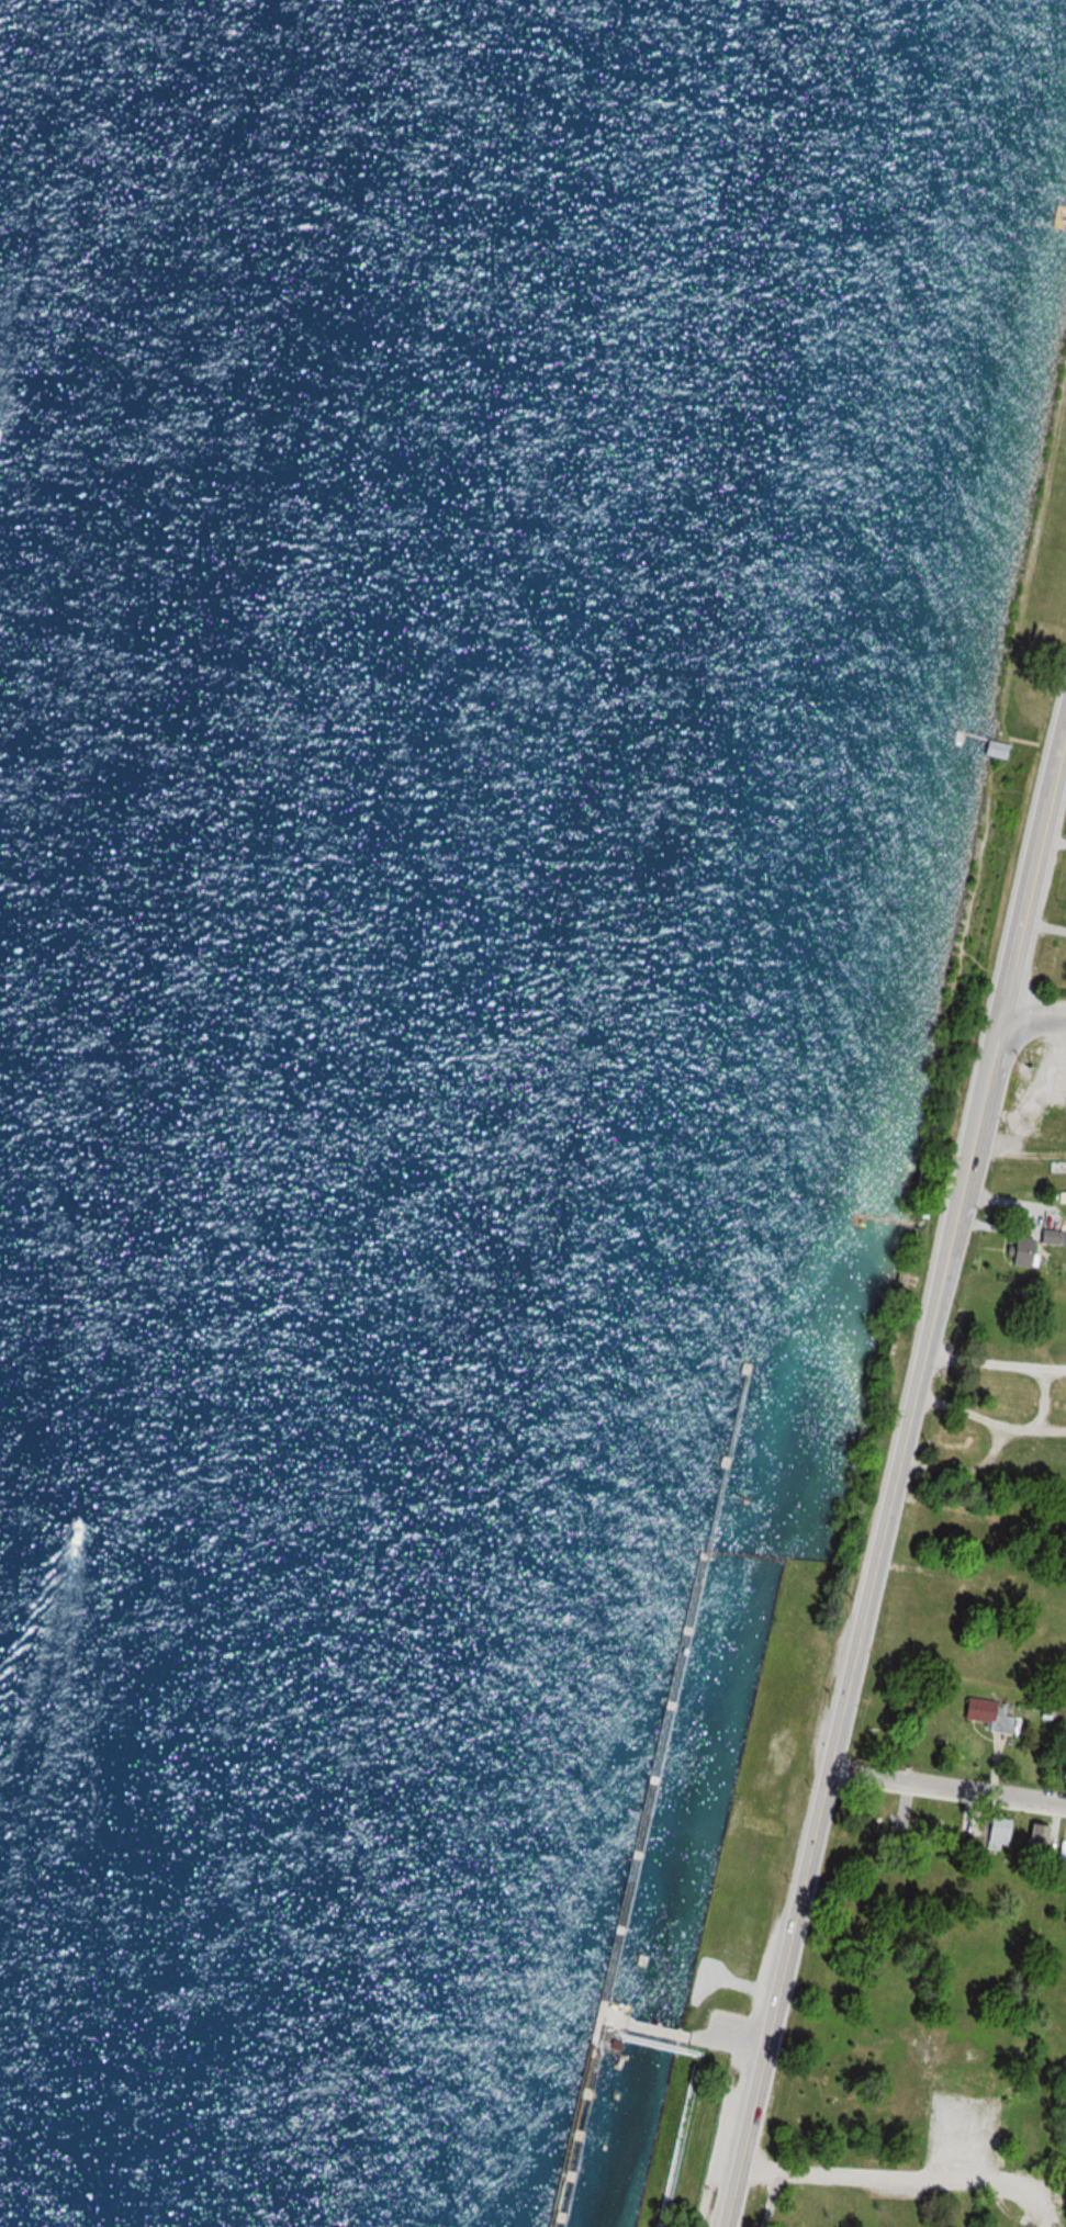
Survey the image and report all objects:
road: (1034, 869)
river: (224, 900)
road: (1034, 1014)
road: (914, 1390)
road: (946, 1784)
river: (65, 1935)
road: (784, 1967)
road: (909, 2175)
road: (731, 2196)

